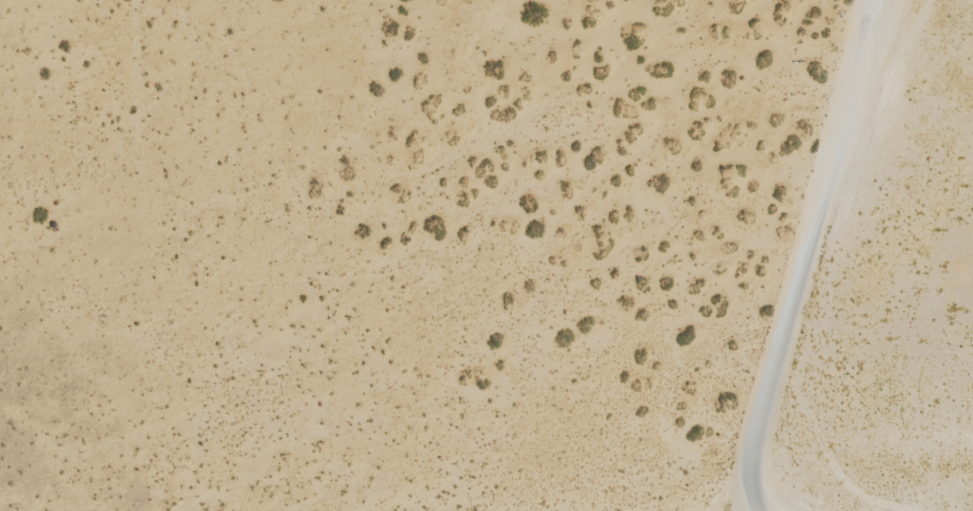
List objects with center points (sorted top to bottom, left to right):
road: (803, 255)

